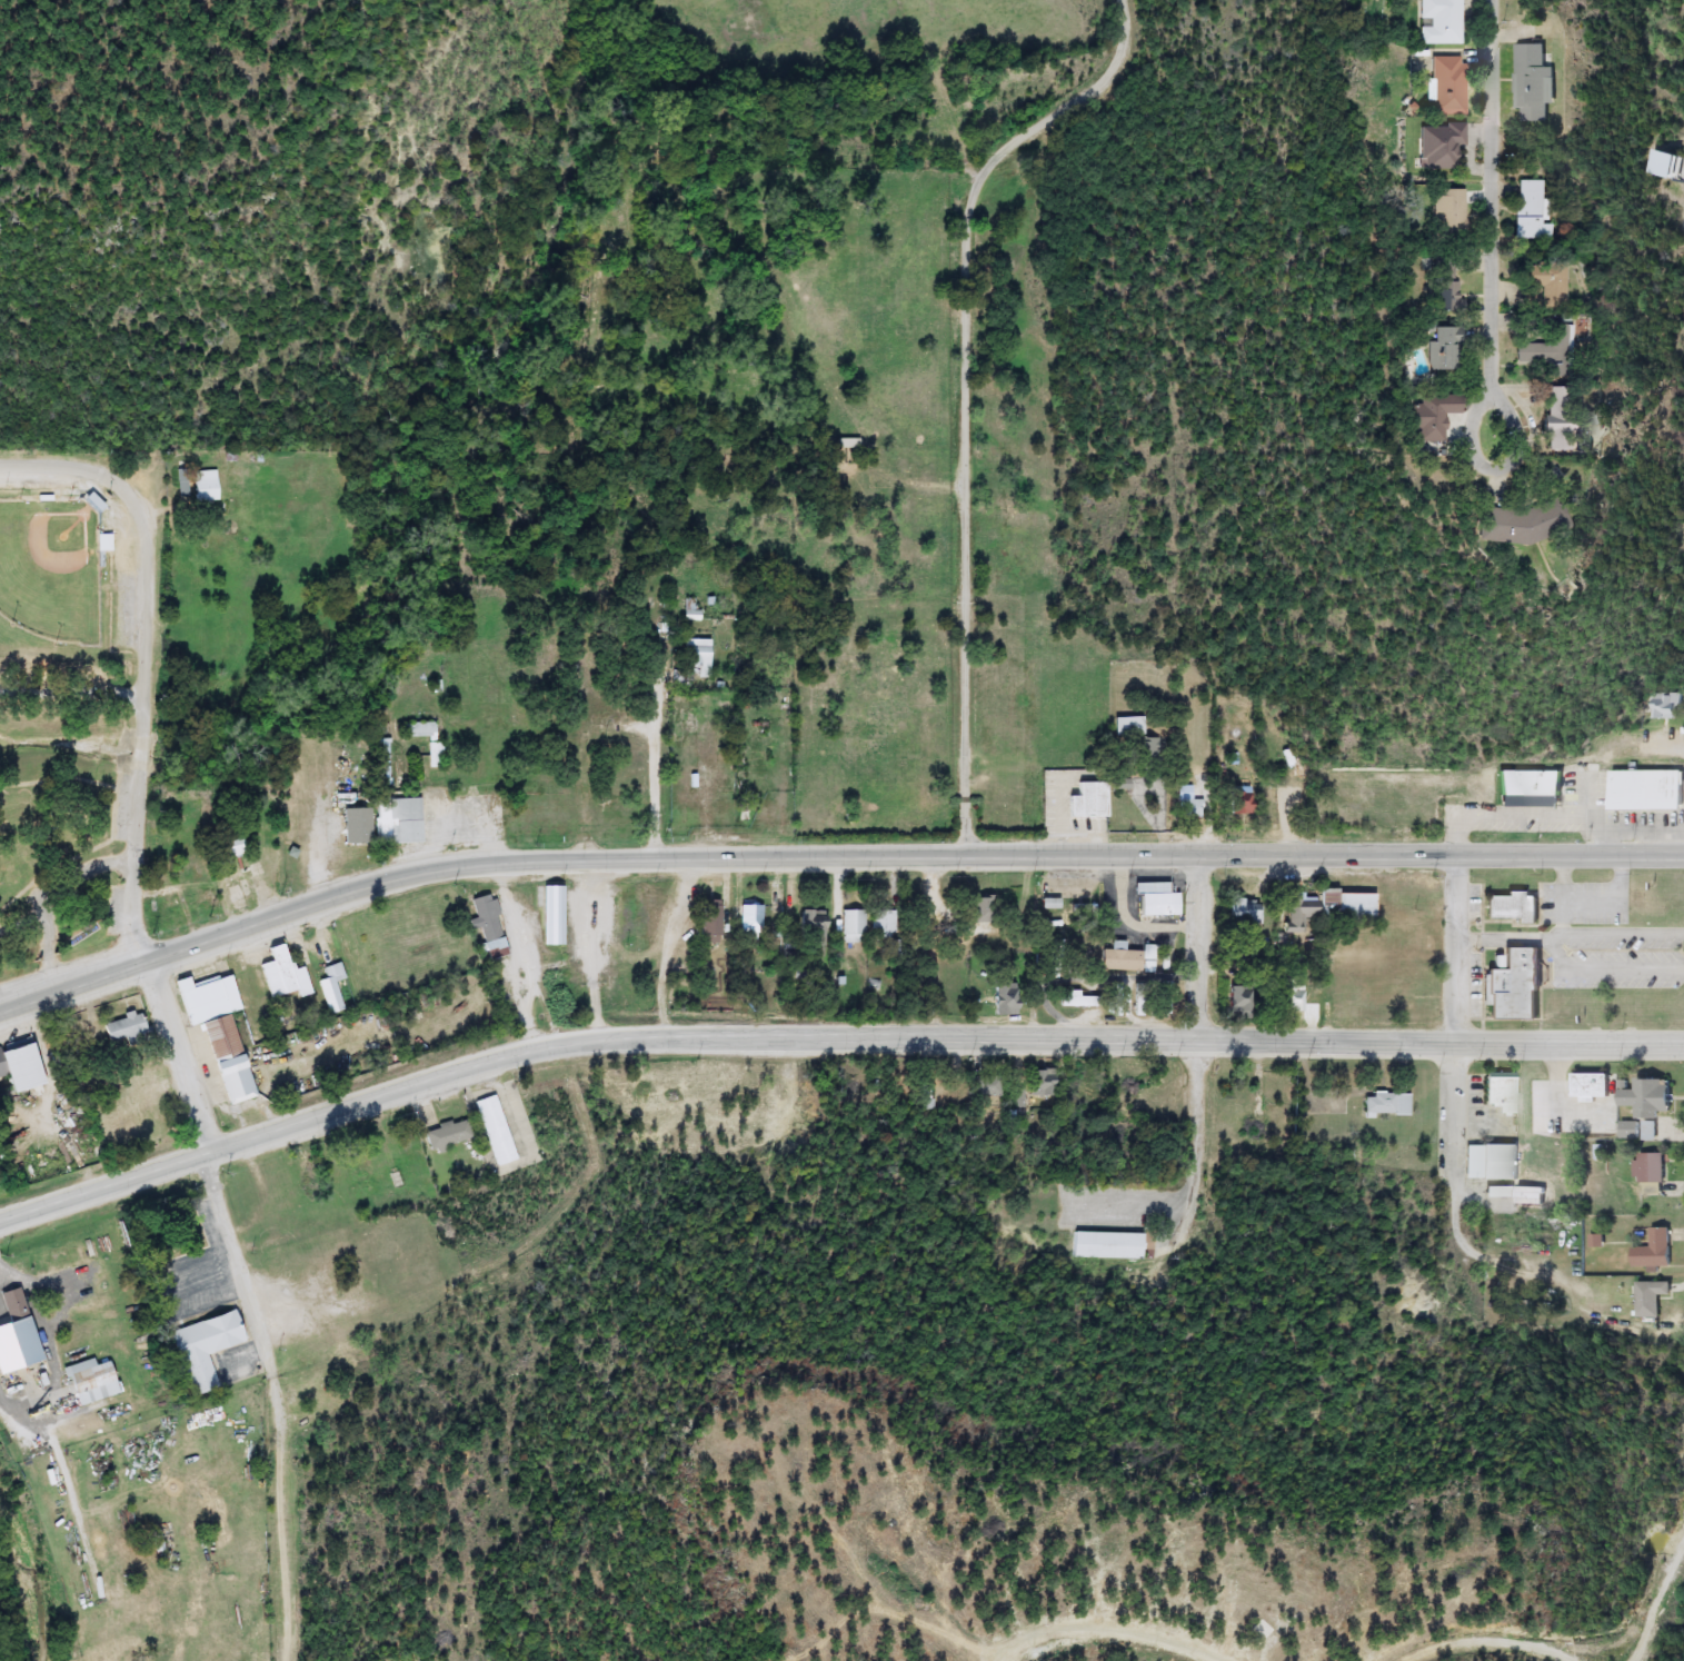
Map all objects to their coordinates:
building: (1441, 22)
building: (1537, 82)
building: (1447, 86)
building: (1441, 146)
building: (1534, 212)
building: (1449, 215)
road: (1495, 218)
building: (1448, 285)
building: (1545, 285)
building: (1448, 349)
building: (1548, 352)
road: (964, 387)
building: (1436, 416)
building: (1565, 420)
building: (847, 444)
road: (94, 474)
building: (207, 487)
building: (96, 503)
building: (1529, 525)
building: (104, 543)
park: (51, 569)
building: (698, 656)
road: (71, 689)
building: (1665, 706)
park: (58, 725)
building: (1138, 740)
building: (383, 750)
building: (436, 754)
road: (140, 755)
road: (657, 762)
building: (1533, 790)
building: (1648, 790)
building: (1090, 800)
building: (1239, 800)
building: (1188, 803)
building: (399, 820)
building: (358, 826)
road: (326, 834)
building: (235, 845)
road: (829, 852)
building: (201, 891)
building: (235, 892)
road: (1590, 898)
building: (1158, 899)
building: (1349, 906)
building: (1515, 908)
building: (980, 909)
building: (1246, 909)
building: (1299, 911)
building: (554, 915)
road: (1563, 916)
building: (751, 917)
building: (487, 918)
building: (713, 921)
building: (853, 926)
building: (883, 927)
building: (814, 932)
road: (1623, 933)
road: (1509, 938)
building: (1166, 959)
building: (1125, 961)
road: (1606, 968)
building: (283, 975)
building: (1516, 985)
building: (332, 987)
building: (1292, 995)
building: (1007, 999)
building: (1139, 999)
building: (1080, 1001)
building: (1242, 1001)
road: (1454, 1008)
building: (126, 1027)
building: (220, 1031)
road: (827, 1033)
road: (1203, 1046)
building: (18, 1061)
building: (1044, 1083)
building: (986, 1085)
building: (1594, 1085)
building: (1503, 1091)
building: (1651, 1097)
building: (1386, 1104)
building: (1631, 1128)
building: (496, 1131)
building: (449, 1134)
building: (1492, 1162)
building: (1650, 1167)
building: (306, 1172)
road: (218, 1174)
building: (1499, 1192)
building: (1108, 1245)
building: (1655, 1250)
building: (1651, 1297)
building: (18, 1335)
building: (207, 1347)
building: (92, 1381)
road: (13, 1405)

